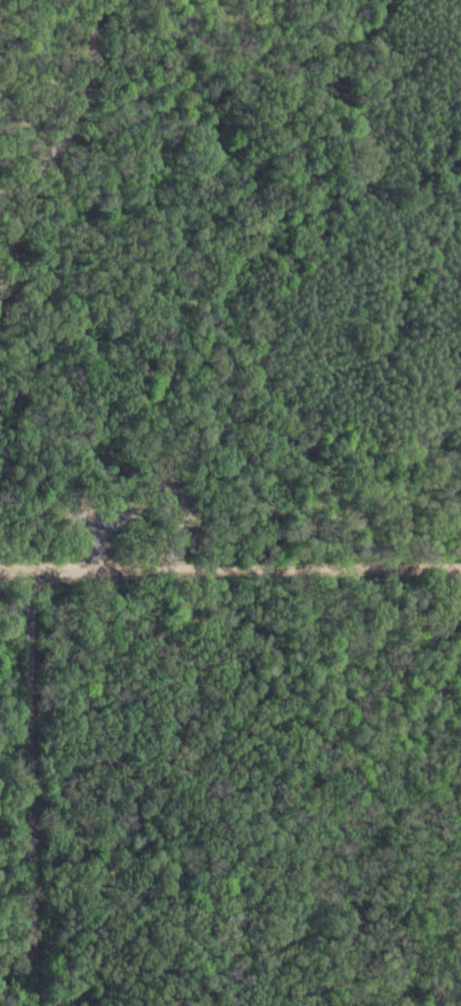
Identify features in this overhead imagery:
road: (230, 554)
road: (29, 775)

